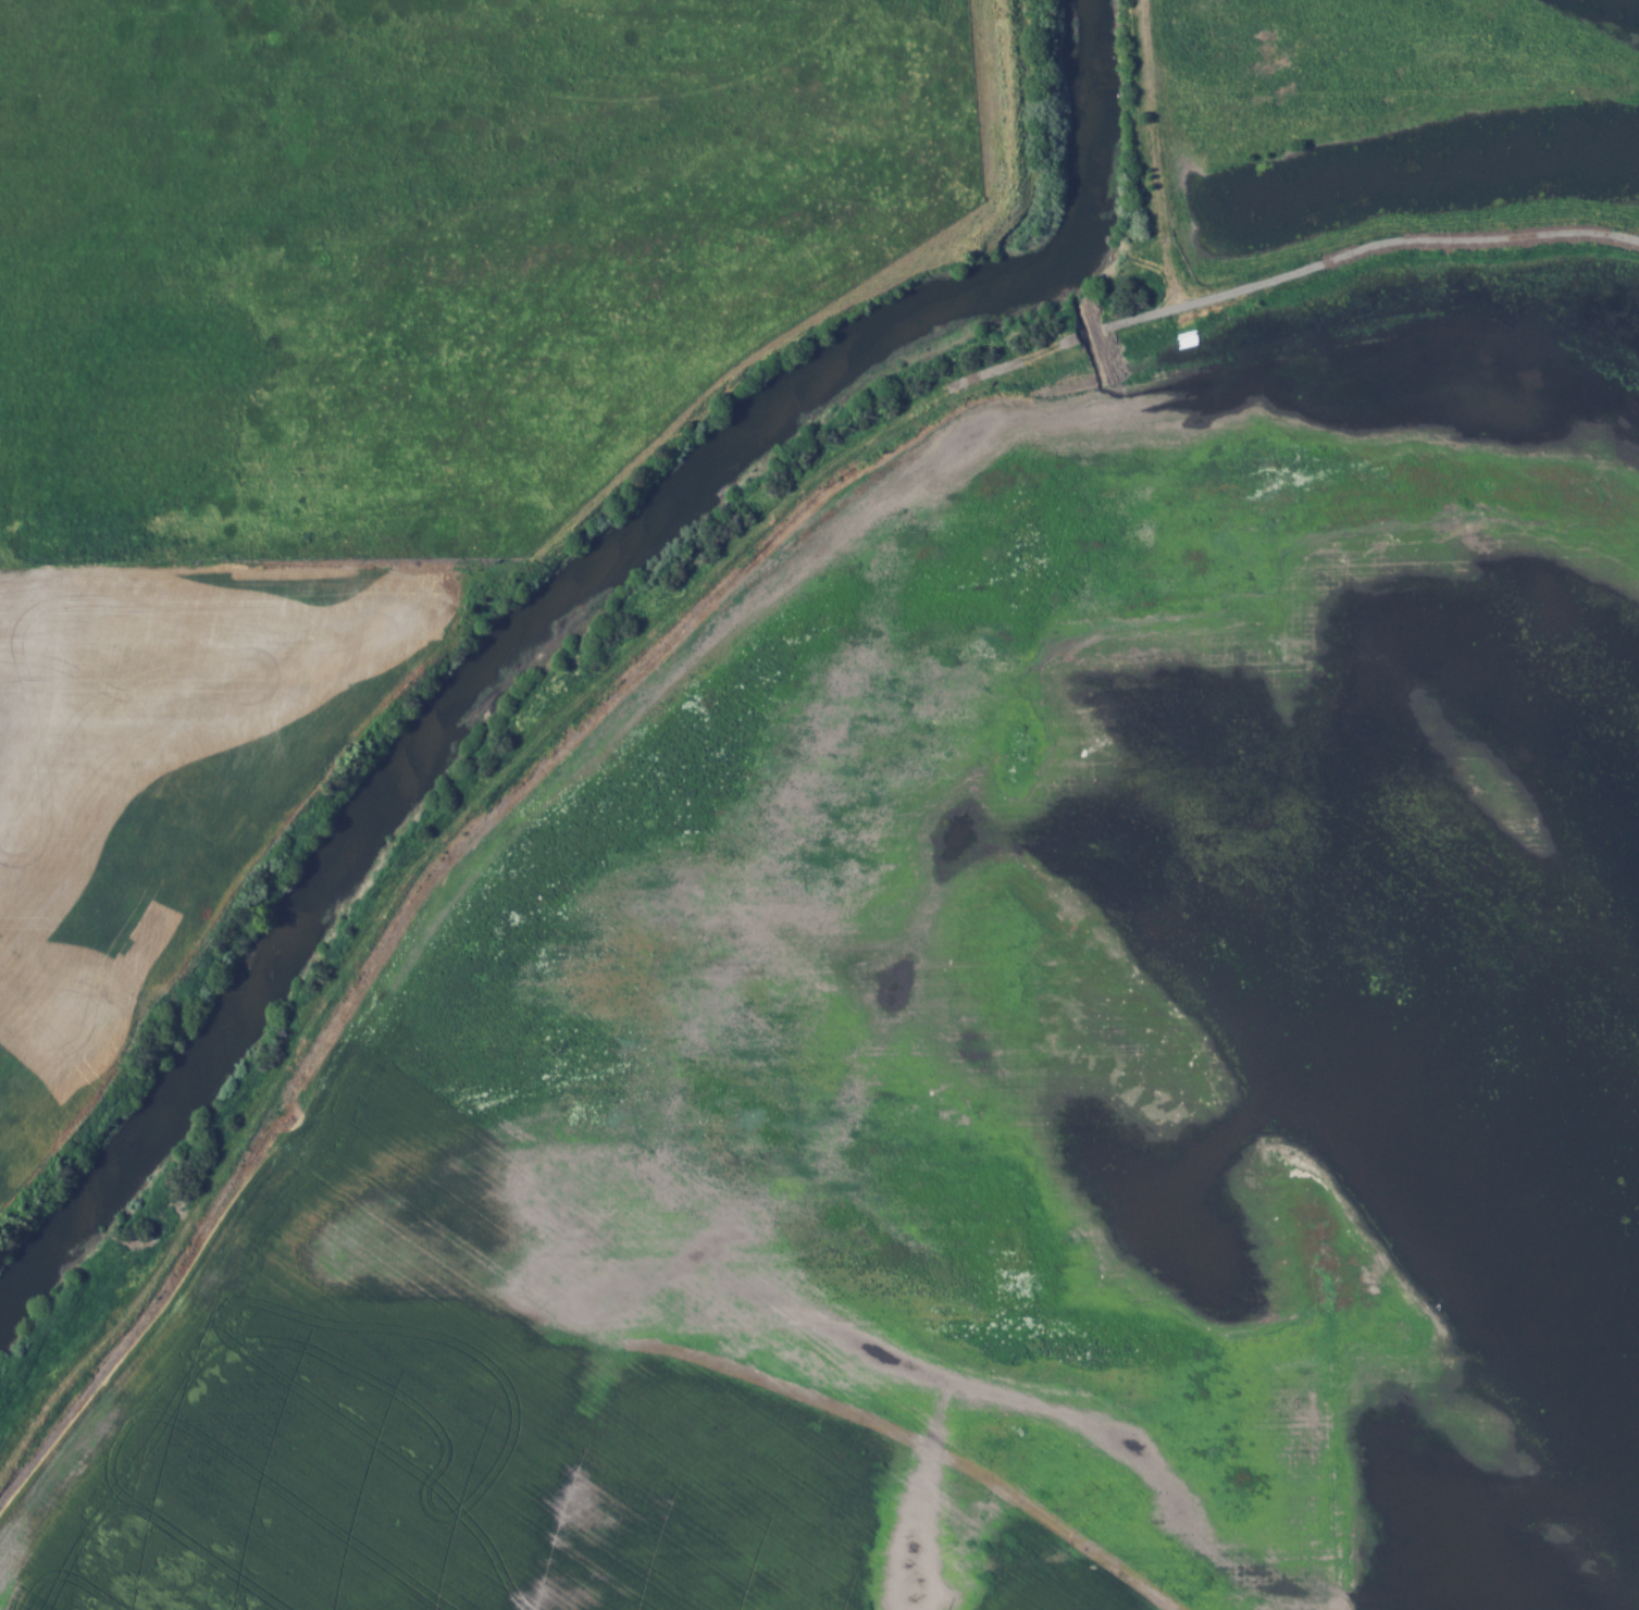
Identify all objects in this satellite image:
river: (1431, 168)
river: (558, 616)

